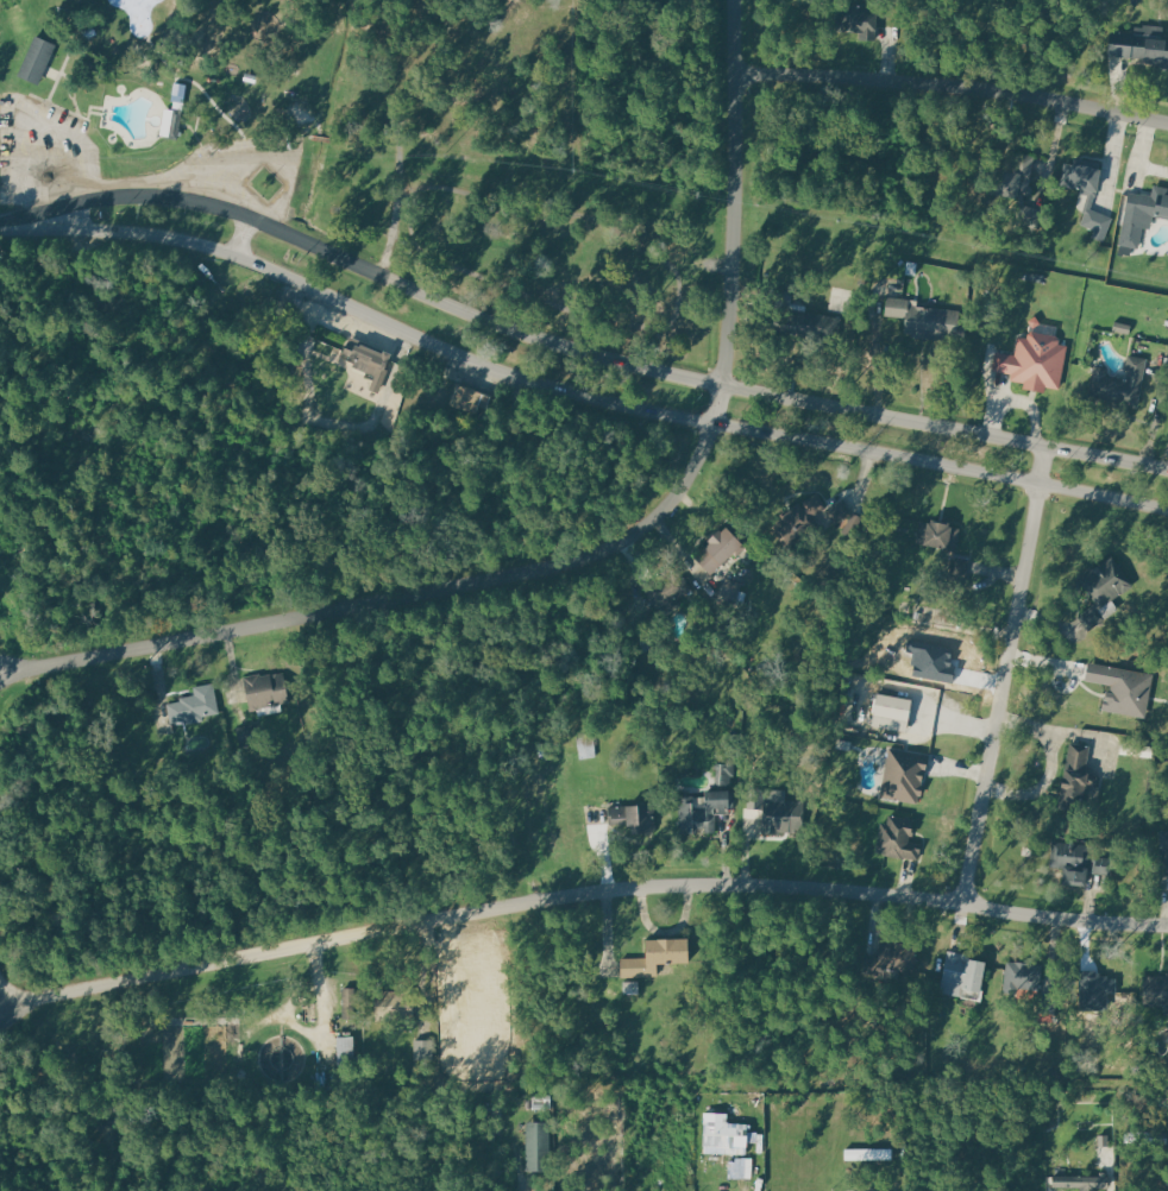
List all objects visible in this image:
building: (858, 20)
building: (1139, 44)
building: (36, 59)
building: (251, 77)
road: (953, 89)
road: (23, 119)
building: (174, 120)
parking lot: (44, 152)
road: (1139, 158)
road: (265, 159)
parking lot: (243, 170)
building: (1082, 175)
building: (1012, 177)
park: (396, 191)
road: (409, 193)
road: (397, 207)
building: (1141, 215)
building: (1029, 216)
building: (1095, 220)
road: (1, 226)
road: (243, 237)
road: (680, 291)
road: (421, 294)
building: (923, 320)
building: (809, 326)
building: (1122, 328)
road: (420, 334)
building: (366, 357)
road: (874, 358)
building: (1034, 361)
building: (1118, 384)
building: (470, 398)
road: (1017, 399)
road: (1006, 439)
road: (1004, 477)
road: (858, 491)
building: (800, 519)
building: (937, 534)
building: (721, 548)
road: (594, 552)
building: (960, 565)
building: (1106, 580)
building: (731, 587)
building: (666, 590)
road: (1003, 674)
building: (1122, 688)
building: (266, 689)
building: (196, 704)
building: (892, 712)
building: (588, 746)
road: (1051, 769)
building: (906, 773)
building: (1076, 781)
building: (709, 804)
building: (781, 812)
building: (635, 817)
building: (898, 838)
building: (1164, 852)
building: (1073, 859)
building: (1100, 864)
road: (579, 891)
building: (657, 956)
building: (896, 956)
building: (961, 975)
building: (1022, 976)
building: (1156, 990)
building: (1095, 992)
building: (350, 1001)
building: (397, 1003)
road: (320, 1031)
building: (421, 1052)
building: (346, 1053)
building: (728, 1132)
building: (539, 1145)
building: (869, 1153)
building: (741, 1170)
road: (105, 1171)
building: (1082, 1179)

